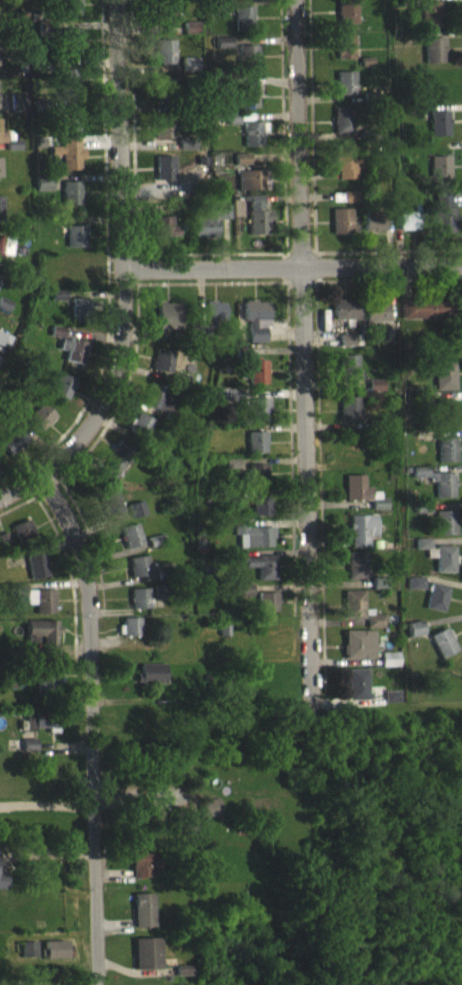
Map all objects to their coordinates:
building: (241, 0)
building: (420, 0)
building: (70, 13)
building: (218, 14)
building: (169, 21)
building: (346, 21)
building: (429, 23)
building: (242, 27)
building: (191, 36)
building: (69, 46)
building: (222, 51)
building: (344, 55)
building: (433, 59)
building: (165, 60)
building: (247, 66)
building: (189, 73)
building: (68, 92)
building: (345, 92)
building: (164, 95)
building: (248, 105)
building: (18, 111)
road: (134, 125)
road: (283, 125)
road: (311, 126)
building: (70, 128)
building: (230, 128)
building: (342, 129)
building: (439, 132)
building: (163, 137)
building: (253, 143)
building: (66, 166)
building: (242, 168)
building: (346, 171)
building: (0, 177)
building: (164, 177)
building: (439, 177)
building: (249, 189)
building: (43, 193)
building: (71, 202)
building: (349, 206)
building: (1, 217)
building: (445, 220)
road: (122, 221)
building: (257, 225)
building: (410, 227)
building: (210, 230)
building: (342, 230)
building: (373, 231)
building: (164, 236)
building: (73, 245)
building: (5, 256)
road: (293, 264)
building: (0, 285)
building: (58, 304)
building: (425, 317)
building: (345, 318)
building: (80, 319)
building: (214, 320)
building: (375, 321)
building: (168, 325)
building: (256, 328)
building: (56, 340)
building: (4, 349)
building: (346, 349)
road: (303, 351)
building: (72, 359)
building: (0, 368)
building: (162, 370)
building: (348, 375)
building: (256, 380)
building: (444, 384)
building: (375, 394)
building: (62, 395)
building: (228, 404)
building: (157, 406)
building: (349, 418)
building: (258, 419)
building: (445, 421)
building: (41, 425)
building: (141, 433)
building: (12, 449)
building: (256, 451)
building: (446, 459)
building: (115, 468)
building: (230, 472)
road: (48, 474)
building: (419, 481)
building: (257, 482)
building: (442, 493)
building: (362, 501)
building: (113, 512)
building: (260, 514)
building: (136, 518)
building: (444, 532)
building: (22, 539)
building: (361, 539)
building: (252, 544)
building: (131, 545)
building: (4, 549)
building: (422, 553)
building: (444, 568)
building: (255, 573)
building: (356, 574)
building: (36, 575)
building: (138, 575)
building: (415, 592)
building: (243, 599)
building: (436, 606)
building: (36, 607)
building: (139, 607)
building: (266, 611)
building: (353, 614)
building: (375, 630)
building: (130, 636)
building: (414, 638)
building: (42, 647)
building: (443, 652)
building: (358, 653)
building: (389, 668)
building: (151, 683)
building: (47, 686)
building: (357, 694)
building: (391, 705)
road: (91, 729)
building: (42, 731)
building: (29, 754)
road: (47, 801)
building: (209, 816)
building: (183, 830)
building: (144, 871)
building: (3, 890)
building: (143, 919)
building: (29, 958)
building: (56, 958)
building: (146, 963)
building: (182, 979)

